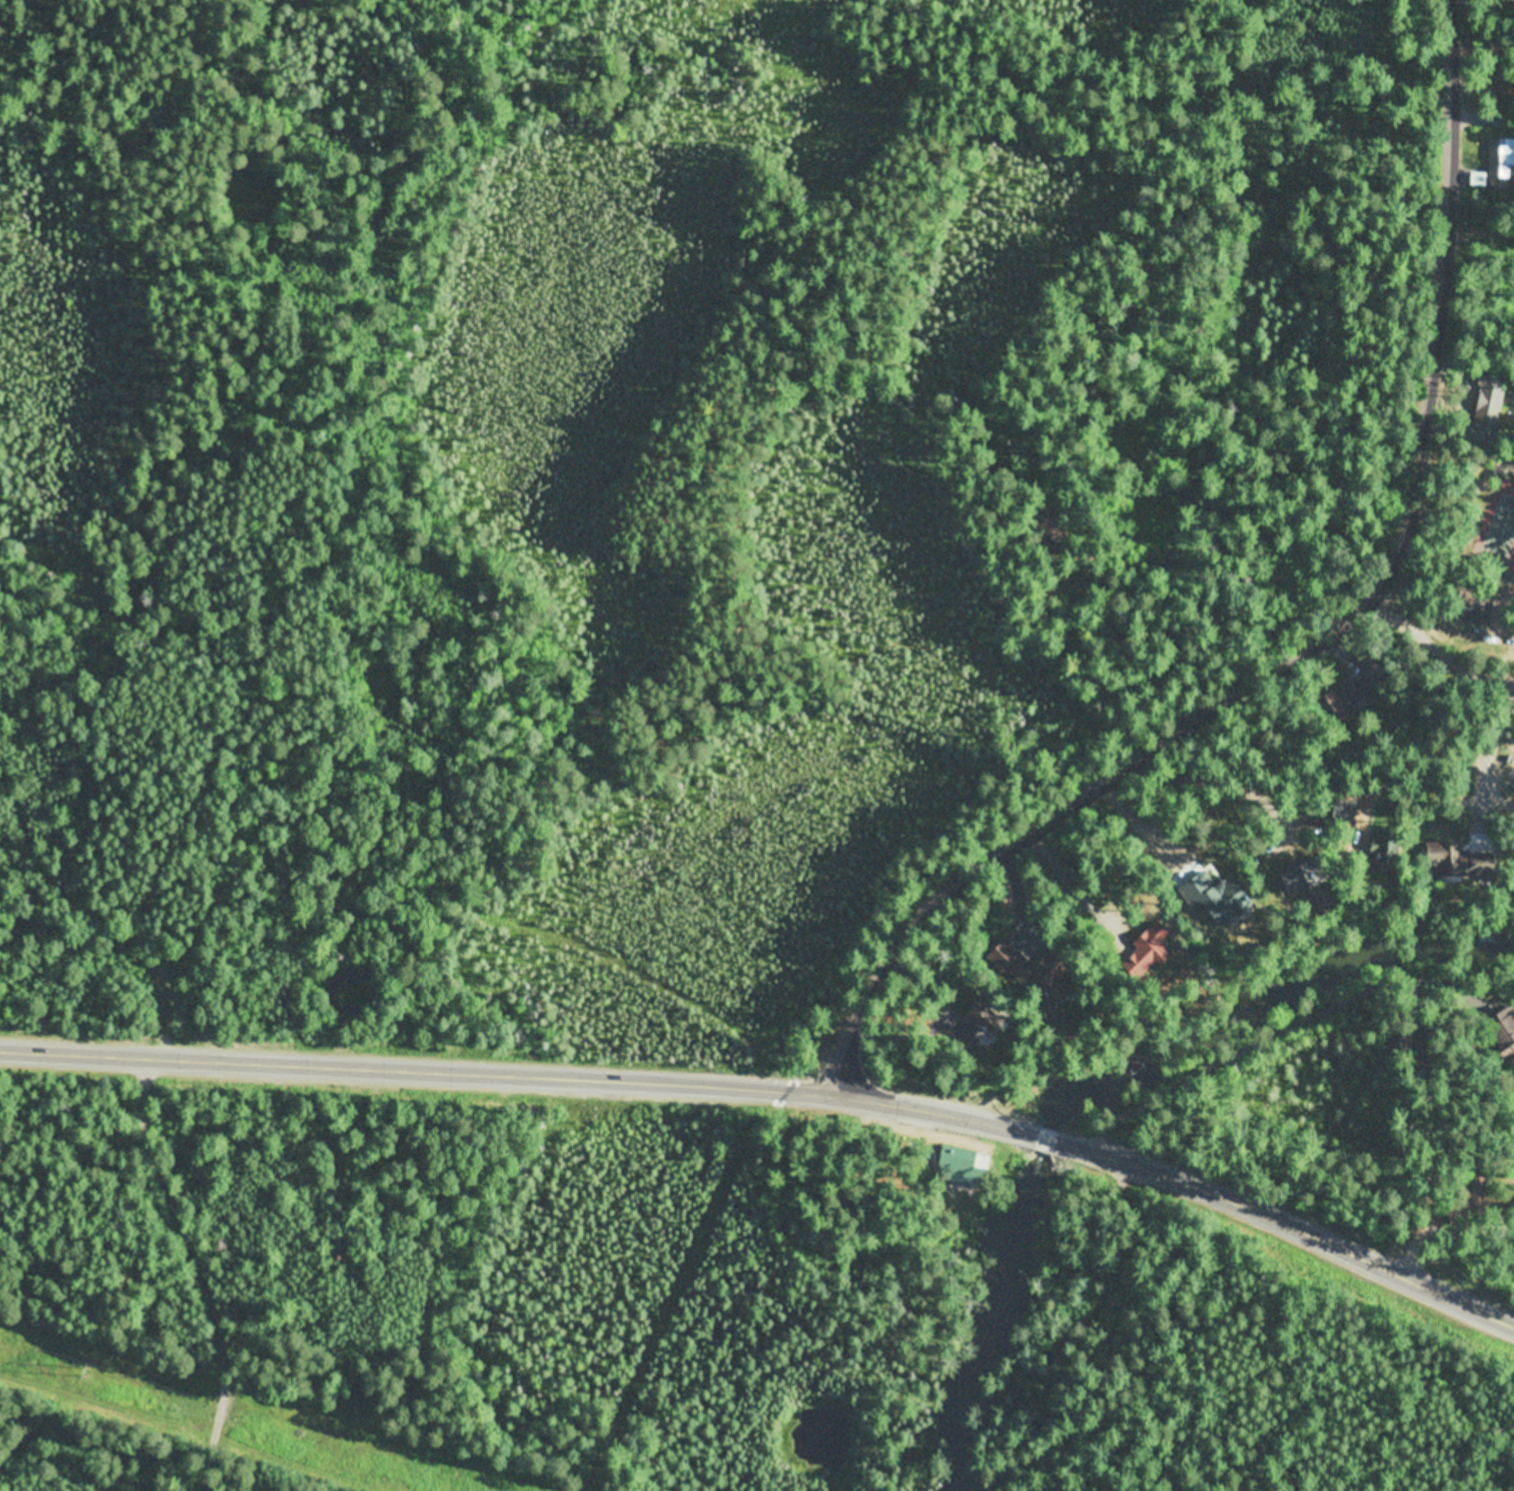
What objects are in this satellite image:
building: (1500, 80)
road: (1482, 118)
building: (1502, 155)
building: (1480, 176)
building: (1488, 407)
building: (1042, 523)
building: (1093, 582)
building: (1475, 607)
road: (1313, 647)
road: (1438, 656)
building: (1356, 692)
building: (1345, 808)
building: (1387, 847)
building: (1458, 858)
building: (1034, 966)
building: (1504, 1032)
road: (1277, 1033)
building: (1398, 1036)
road: (518, 1077)
road: (1042, 1142)
building: (959, 1169)
building: (1472, 1195)
road: (1286, 1229)
road: (191, 1273)

